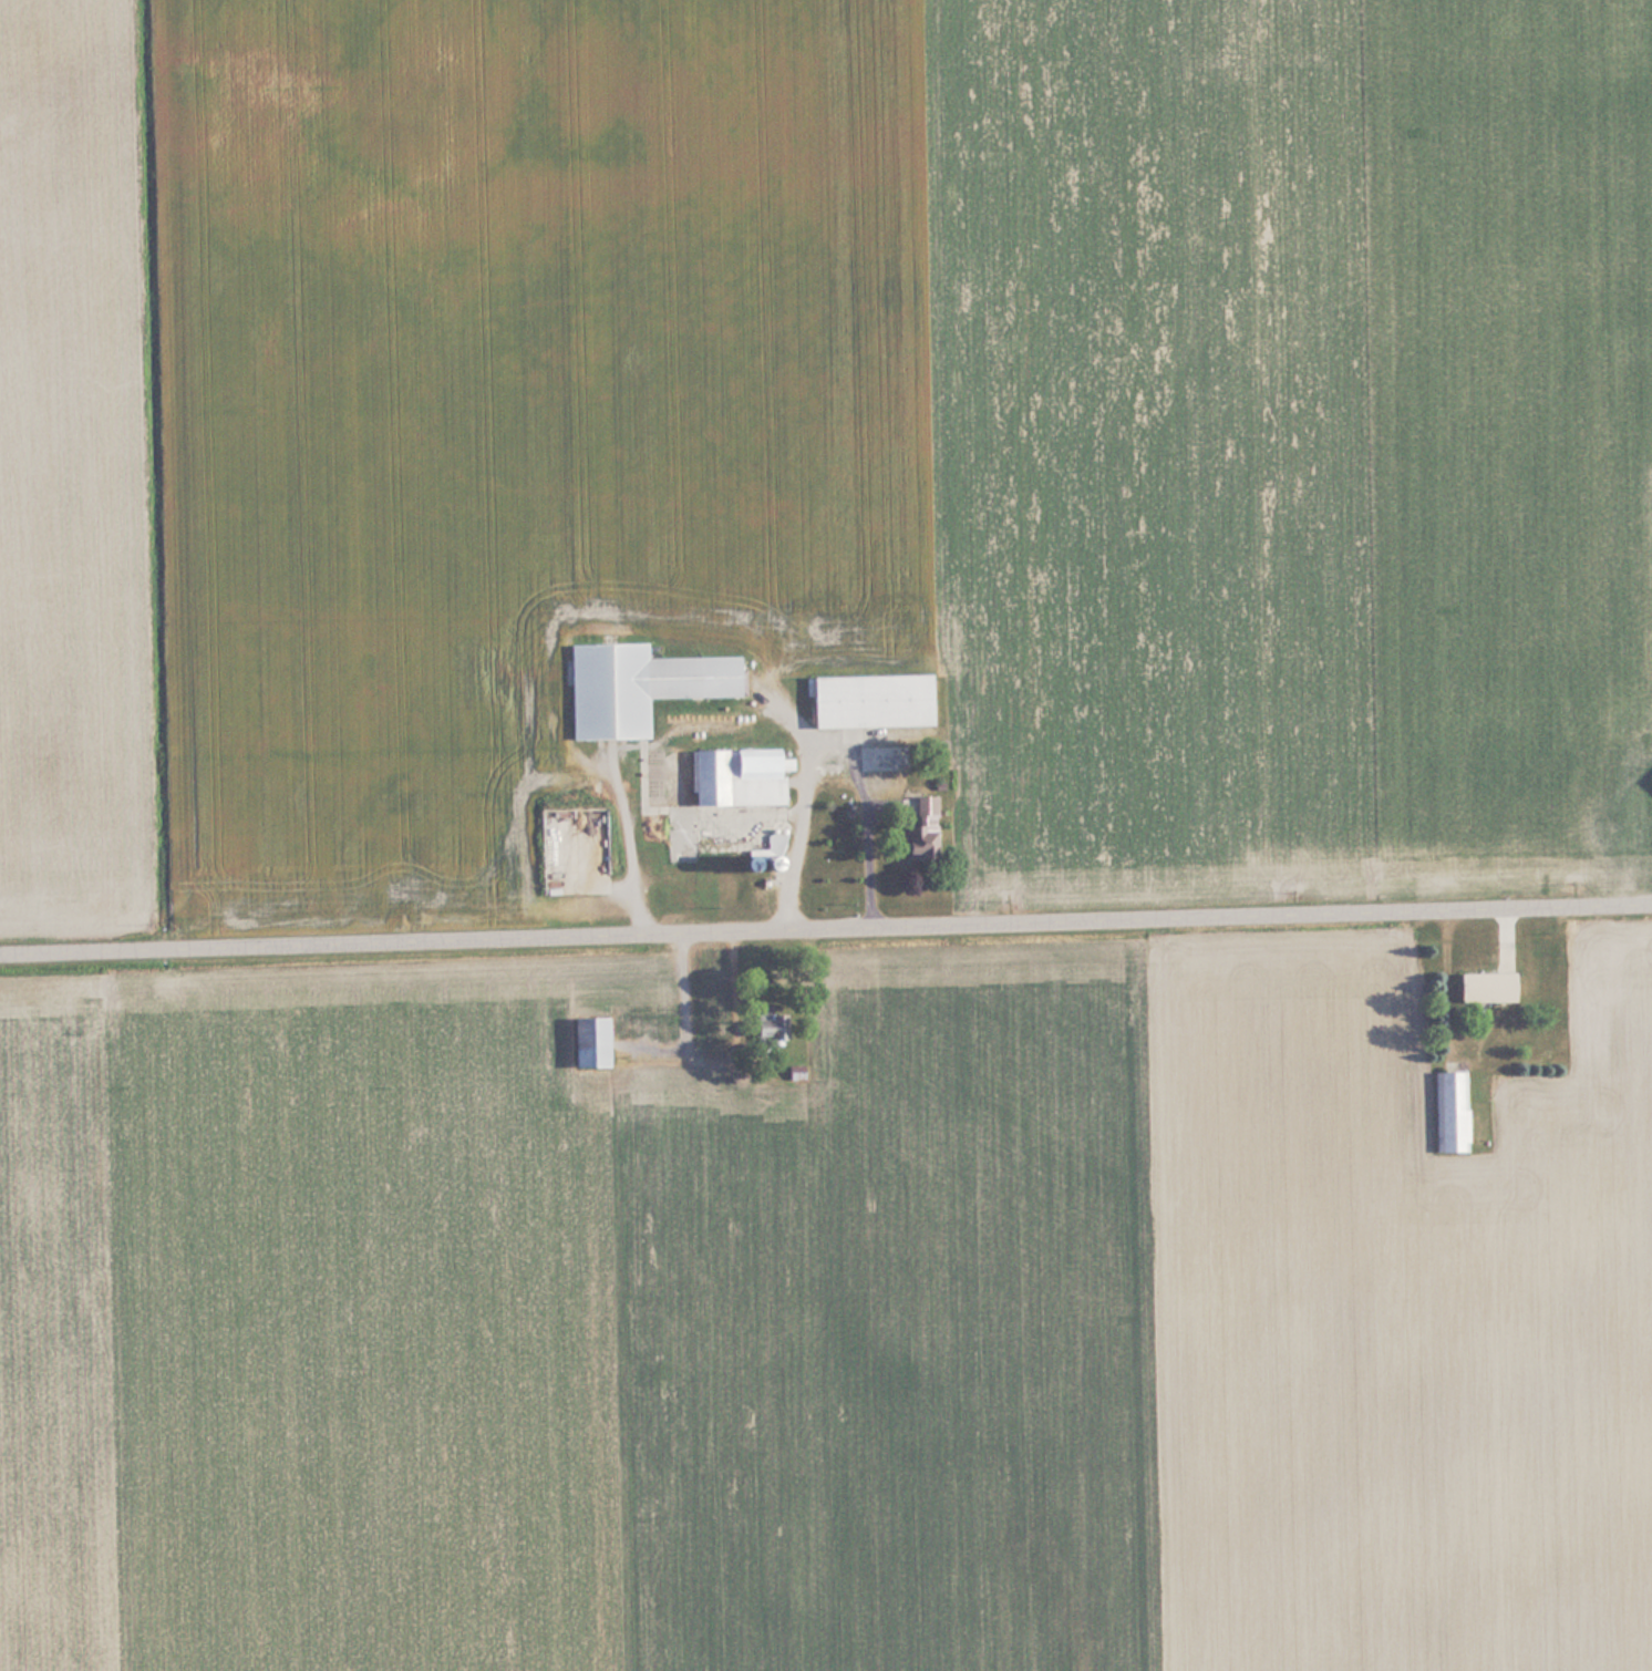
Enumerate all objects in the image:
building: (634, 685)
building: (867, 700)
building: (735, 776)
building: (1634, 818)
building: (920, 831)
road: (826, 932)
building: (1484, 986)
building: (764, 1031)
building: (584, 1041)
building: (1450, 1110)

